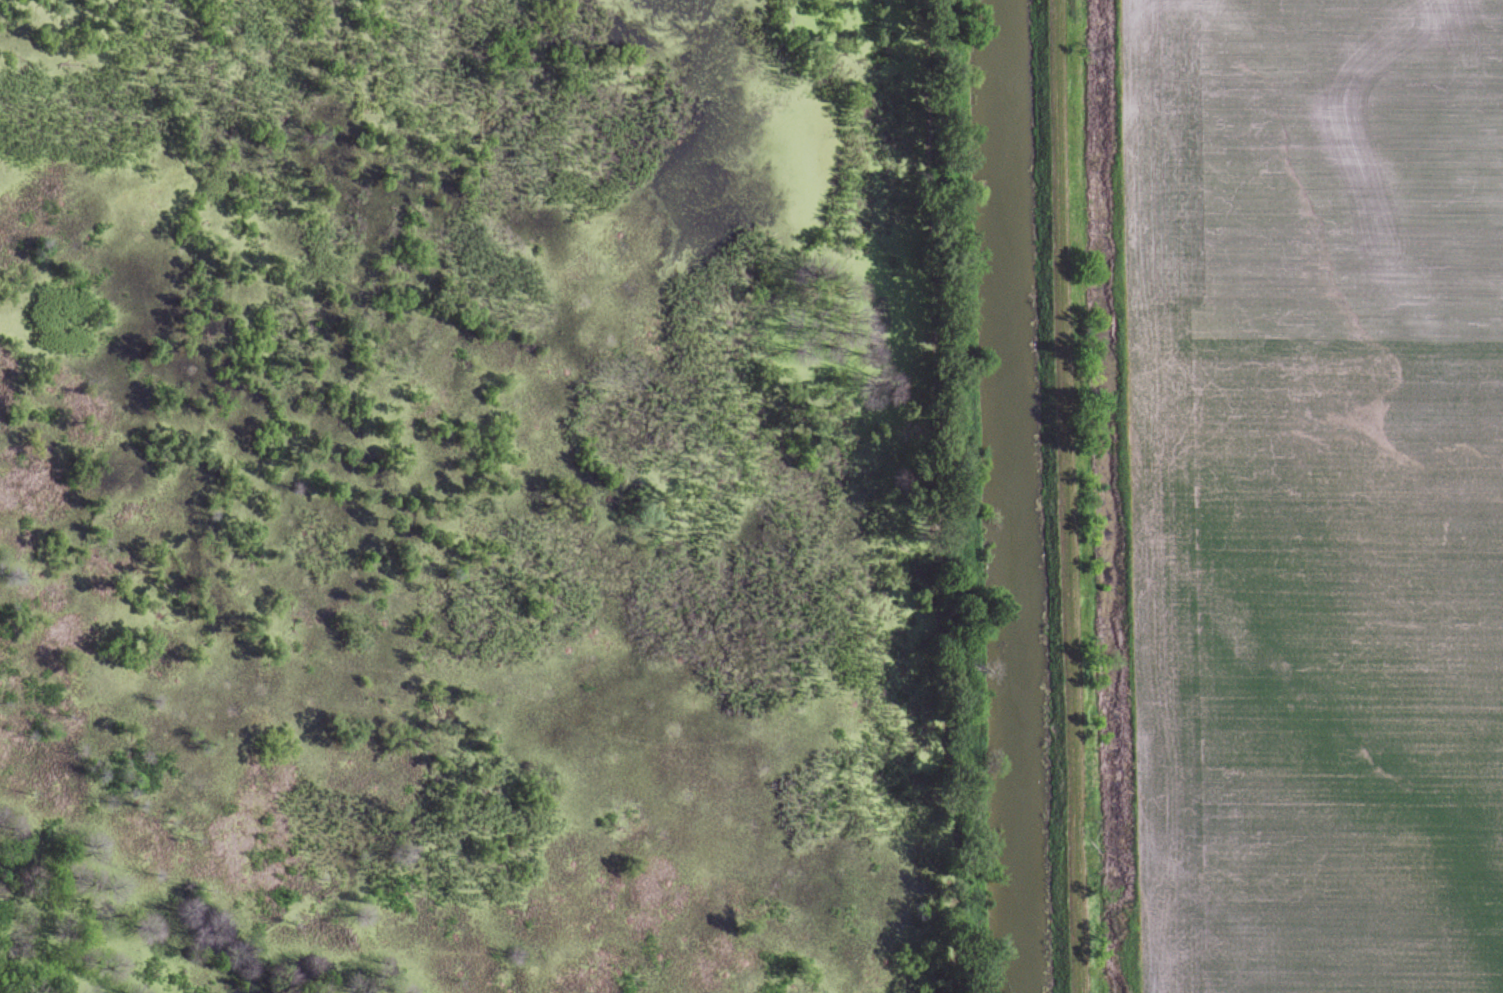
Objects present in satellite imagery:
crop: (1314, 492)

